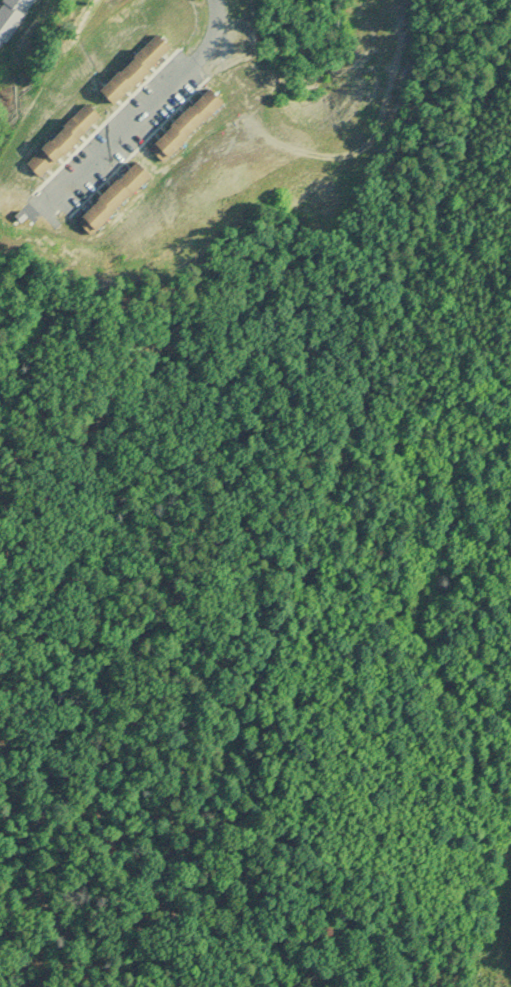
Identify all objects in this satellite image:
building: (11, 17)
building: (131, 68)
road: (146, 116)
building: (183, 125)
building: (60, 139)
building: (110, 198)

